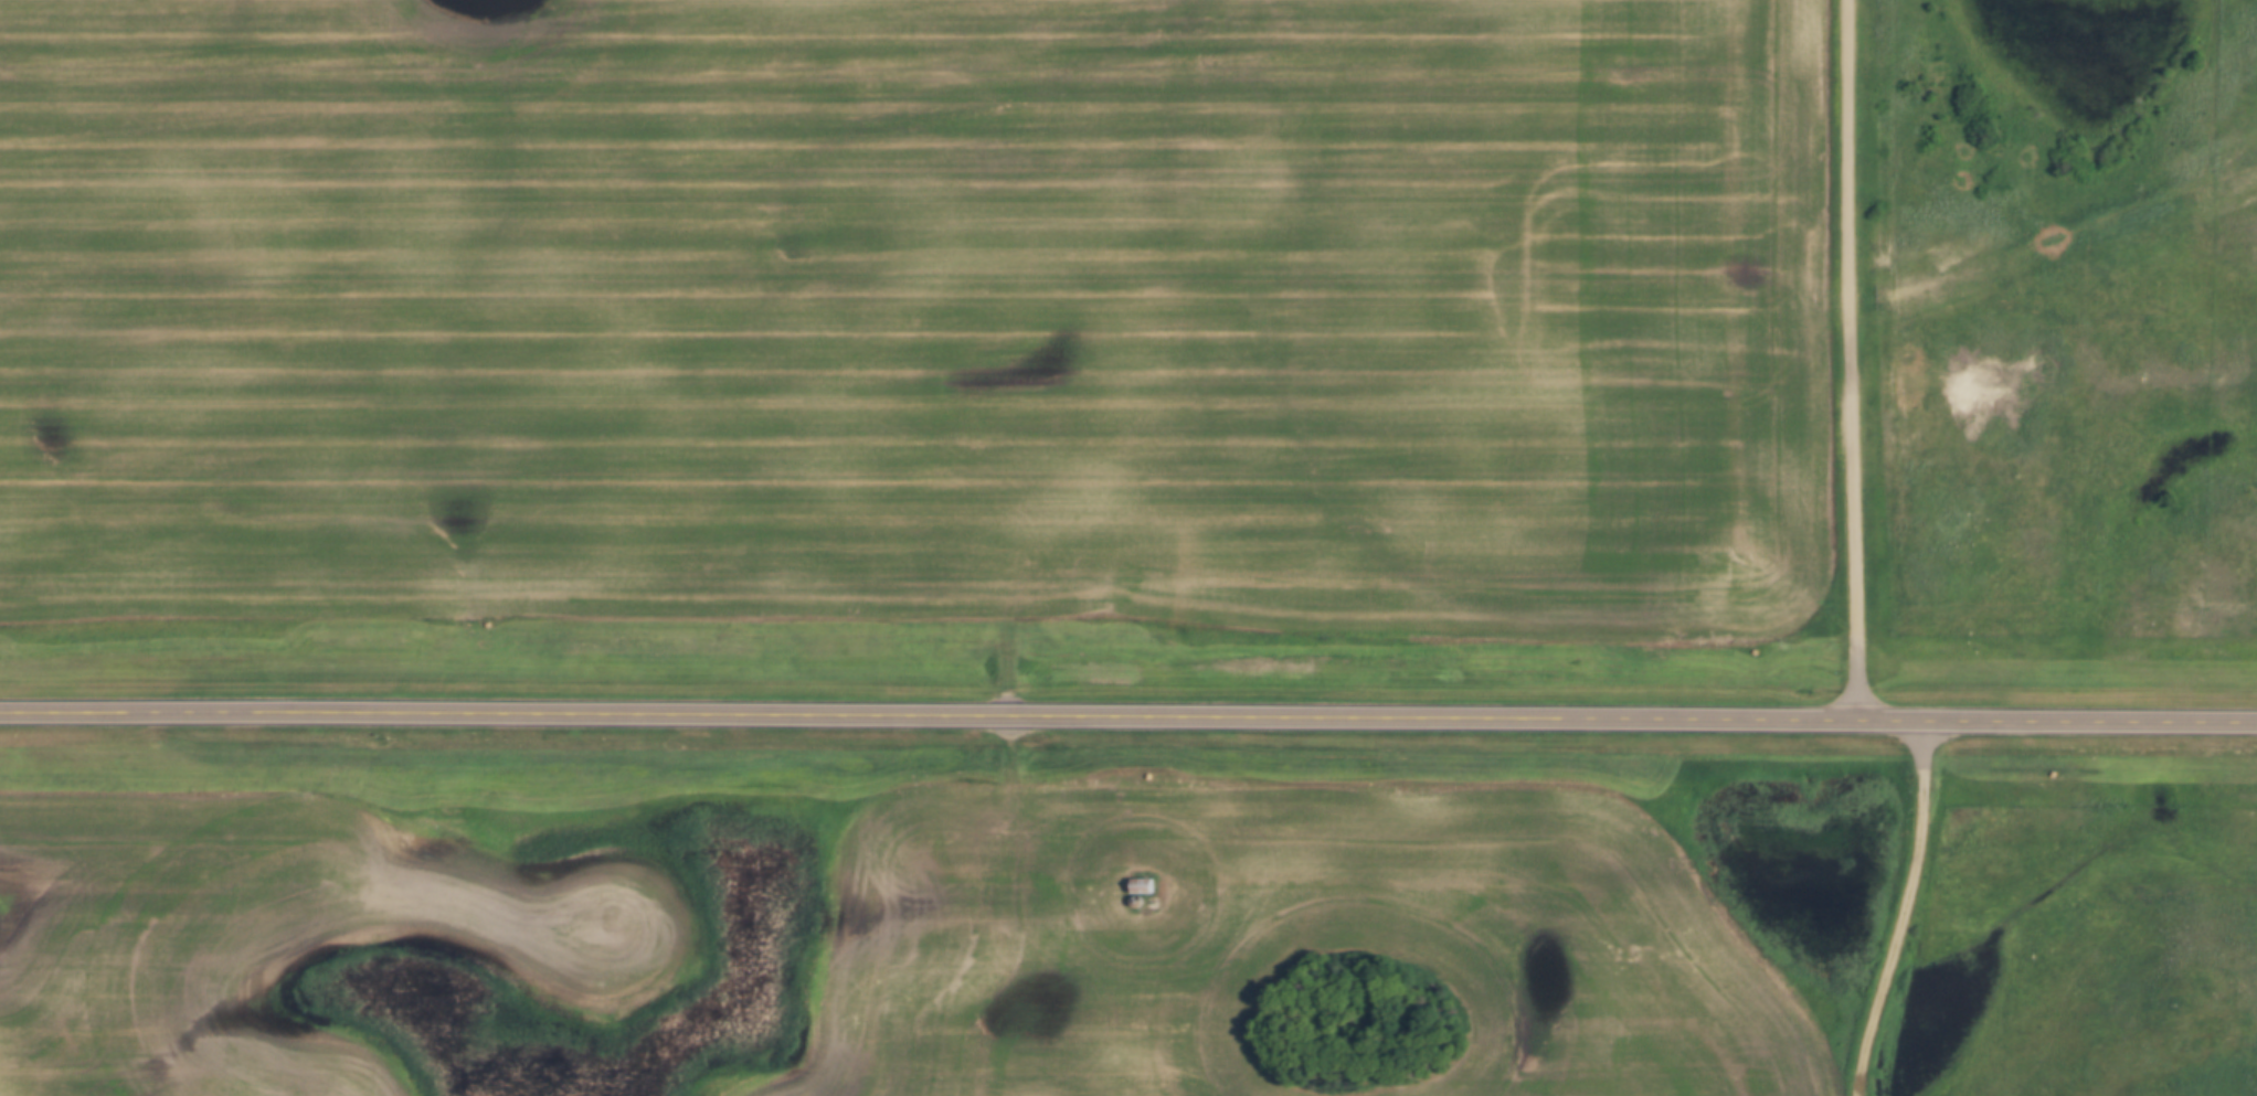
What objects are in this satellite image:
road: (1855, 359)
road: (1127, 715)
building: (1143, 887)
road: (1906, 909)

